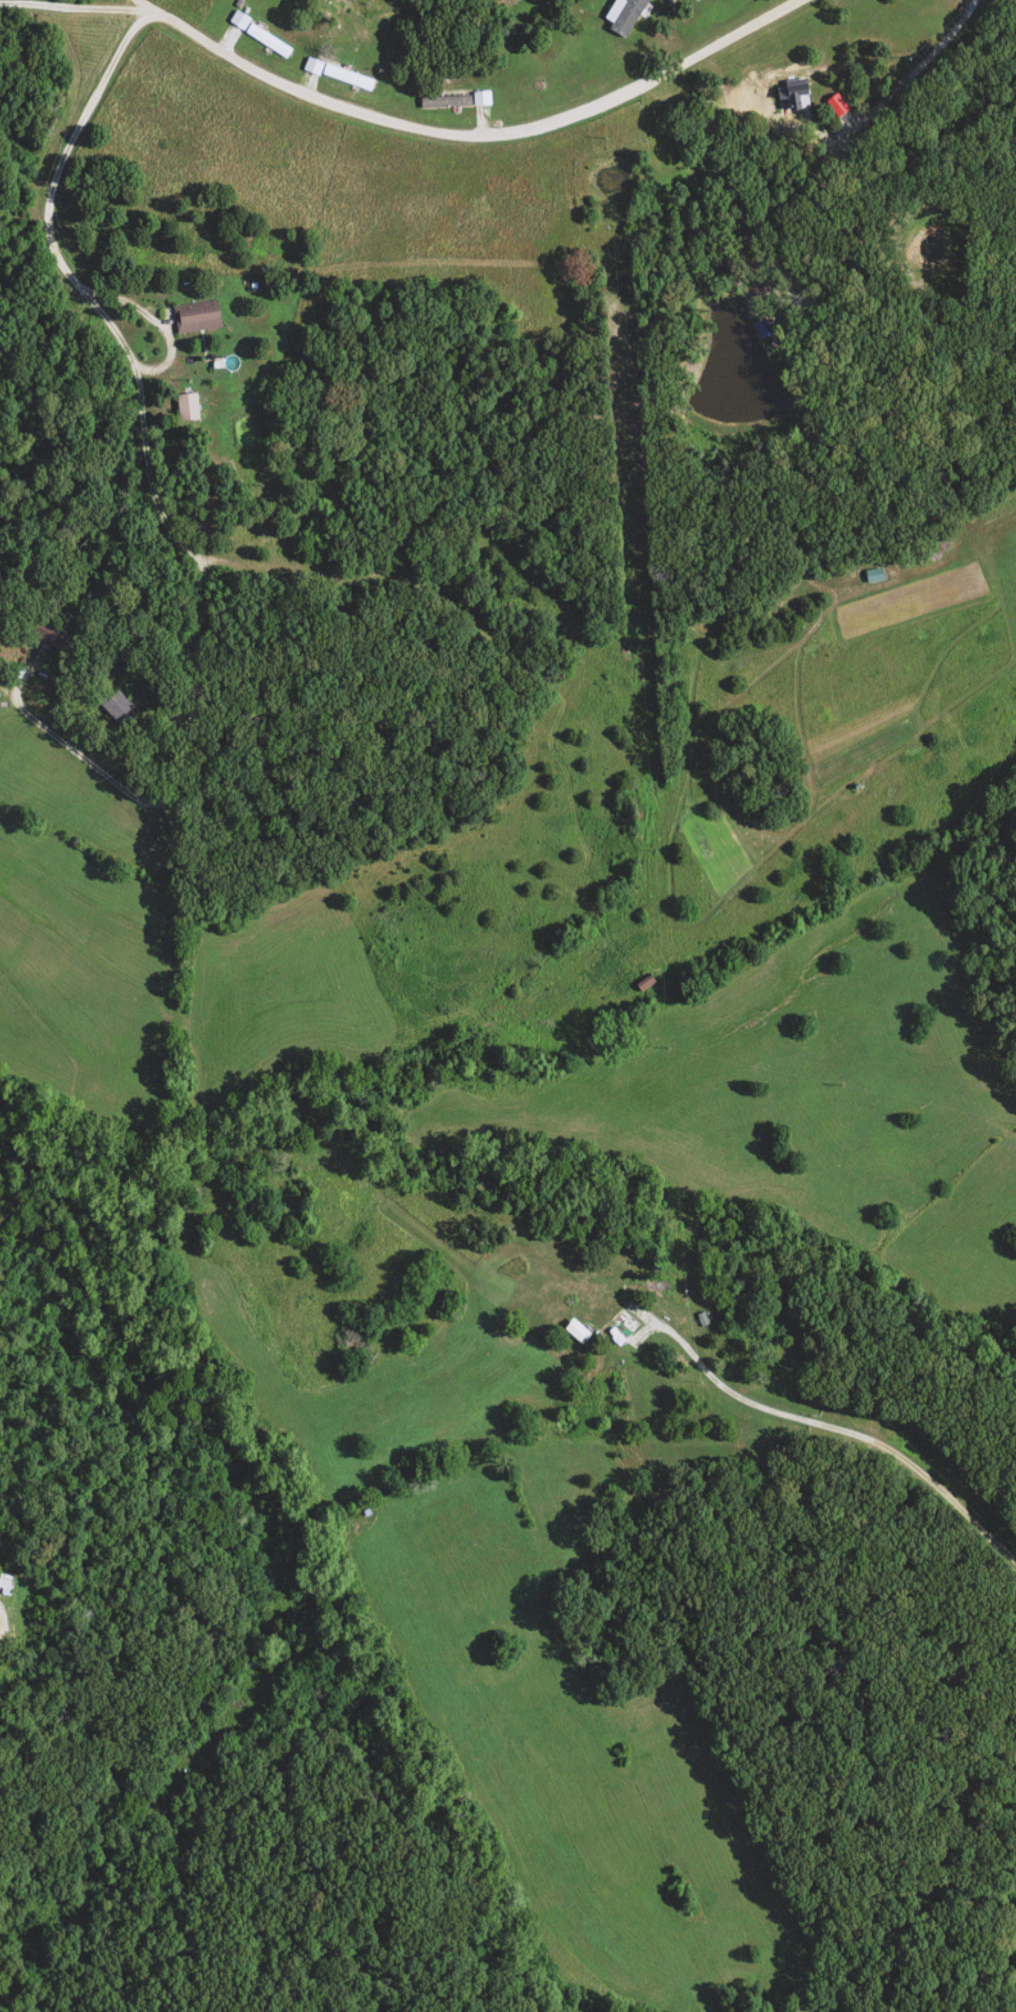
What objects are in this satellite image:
road: (141, 6)
road: (75, 7)
building: (620, 16)
building: (264, 41)
building: (344, 78)
building: (442, 102)
road: (478, 133)
road: (847, 133)
road: (47, 237)
building: (194, 318)
building: (183, 408)
building: (248, 532)
building: (117, 707)
building: (641, 985)

